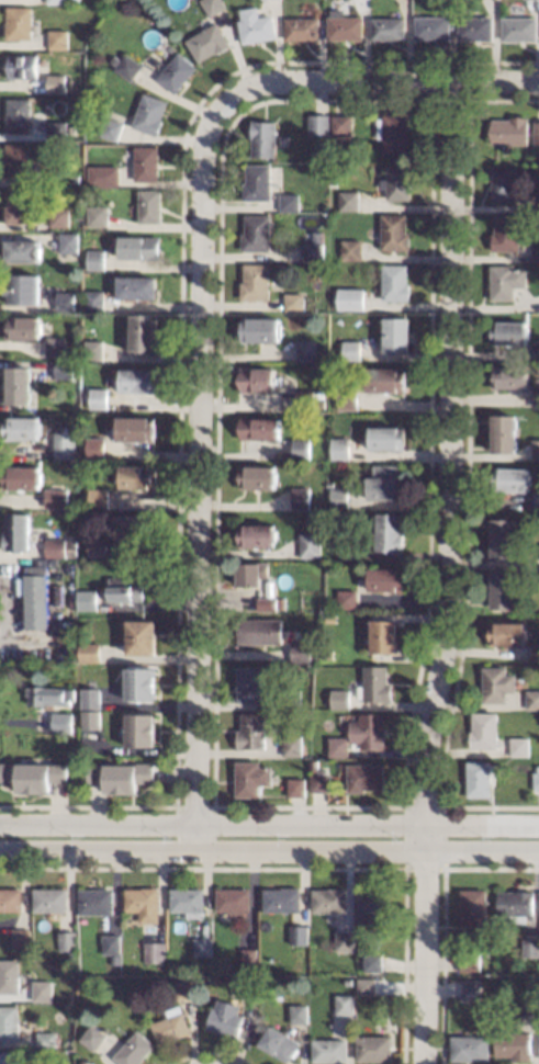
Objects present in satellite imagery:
building: (55, 1)
building: (72, 1)
building: (212, 5)
building: (18, 22)
building: (255, 25)
building: (341, 25)
building: (431, 26)
building: (474, 26)
building: (300, 27)
building: (386, 27)
building: (518, 27)
building: (56, 37)
building: (205, 42)
building: (21, 66)
building: (126, 66)
building: (176, 71)
road: (374, 81)
building: (54, 83)
building: (148, 113)
building: (16, 115)
building: (316, 124)
building: (340, 124)
building: (110, 128)
building: (55, 129)
building: (509, 129)
building: (392, 131)
building: (536, 132)
building: (261, 138)
building: (14, 159)
building: (145, 162)
building: (101, 176)
building: (74, 179)
building: (395, 181)
building: (256, 182)
building: (332, 182)
building: (503, 182)
building: (348, 200)
building: (288, 201)
building: (19, 204)
building: (148, 205)
building: (97, 215)
building: (57, 216)
building: (393, 230)
building: (505, 231)
building: (254, 233)
building: (67, 241)
building: (139, 247)
building: (313, 247)
building: (349, 249)
building: (22, 250)
building: (536, 250)
building: (93, 258)
building: (254, 281)
building: (394, 281)
building: (505, 281)
building: (136, 286)
building: (21, 288)
building: (93, 299)
building: (64, 301)
building: (292, 301)
building: (350, 301)
building: (22, 328)
building: (259, 328)
building: (143, 331)
building: (509, 332)
building: (396, 335)
building: (54, 346)
building: (93, 349)
building: (350, 349)
building: (304, 350)
building: (63, 370)
building: (93, 371)
building: (508, 376)
building: (137, 378)
building: (257, 378)
building: (384, 380)
building: (16, 384)
building: (536, 394)
building: (318, 395)
building: (97, 397)
building: (346, 397)
building: (303, 398)
building: (20, 427)
building: (259, 428)
building: (135, 429)
building: (504, 433)
building: (50, 437)
building: (386, 437)
building: (94, 446)
building: (67, 448)
building: (300, 448)
building: (338, 448)
building: (535, 448)
building: (72, 464)
building: (257, 476)
building: (21, 477)
building: (138, 477)
building: (510, 477)
road: (198, 478)
building: (329, 483)
building: (384, 483)
building: (55, 497)
building: (98, 497)
building: (300, 497)
building: (338, 497)
building: (536, 500)
building: (135, 527)
building: (16, 530)
building: (390, 531)
building: (256, 535)
building: (504, 536)
building: (96, 544)
building: (308, 544)
building: (71, 546)
building: (54, 547)
building: (347, 548)
road: (449, 573)
building: (251, 574)
building: (385, 579)
building: (504, 589)
building: (123, 590)
building: (55, 593)
building: (35, 596)
building: (346, 598)
building: (85, 599)
building: (266, 603)
building: (330, 618)
building: (259, 630)
building: (507, 633)
building: (141, 636)
building: (383, 636)
building: (88, 650)
building: (300, 652)
building: (535, 652)
building: (139, 682)
building: (496, 682)
building: (247, 683)
building: (374, 684)
building: (48, 695)
building: (90, 697)
building: (290, 698)
building: (532, 698)
building: (339, 699)
building: (89, 720)
building: (60, 722)
building: (251, 729)
building: (484, 729)
building: (139, 731)
building: (369, 731)
building: (291, 744)
building: (338, 745)
building: (519, 746)
building: (314, 763)
building: (537, 768)
building: (33, 774)
building: (120, 774)
building: (364, 777)
building: (250, 778)
building: (479, 778)
building: (536, 780)
building: (319, 782)
building: (295, 785)
road: (269, 824)
road: (269, 851)
building: (10, 898)
building: (48, 898)
building: (281, 898)
building: (187, 899)
building: (232, 899)
building: (328, 899)
building: (94, 901)
building: (142, 903)
building: (514, 904)
building: (370, 905)
building: (471, 907)
building: (297, 933)
building: (20, 938)
building: (66, 940)
building: (343, 940)
building: (110, 943)
building: (201, 946)
building: (528, 947)
building: (153, 952)
building: (248, 957)
building: (371, 961)
building: (468, 961)
building: (9, 976)
building: (347, 982)
building: (366, 985)
building: (250, 988)
building: (469, 988)
building: (42, 989)
building: (184, 989)
building: (344, 1003)
building: (527, 1004)
building: (297, 1014)
building: (224, 1018)
building: (9, 1021)
building: (170, 1026)
building: (93, 1038)
building: (46, 1039)
building: (278, 1043)
building: (513, 1044)
building: (469, 1046)
building: (373, 1048)
building: (133, 1050)
building: (328, 1050)
building: (9, 1056)
building: (86, 1062)

